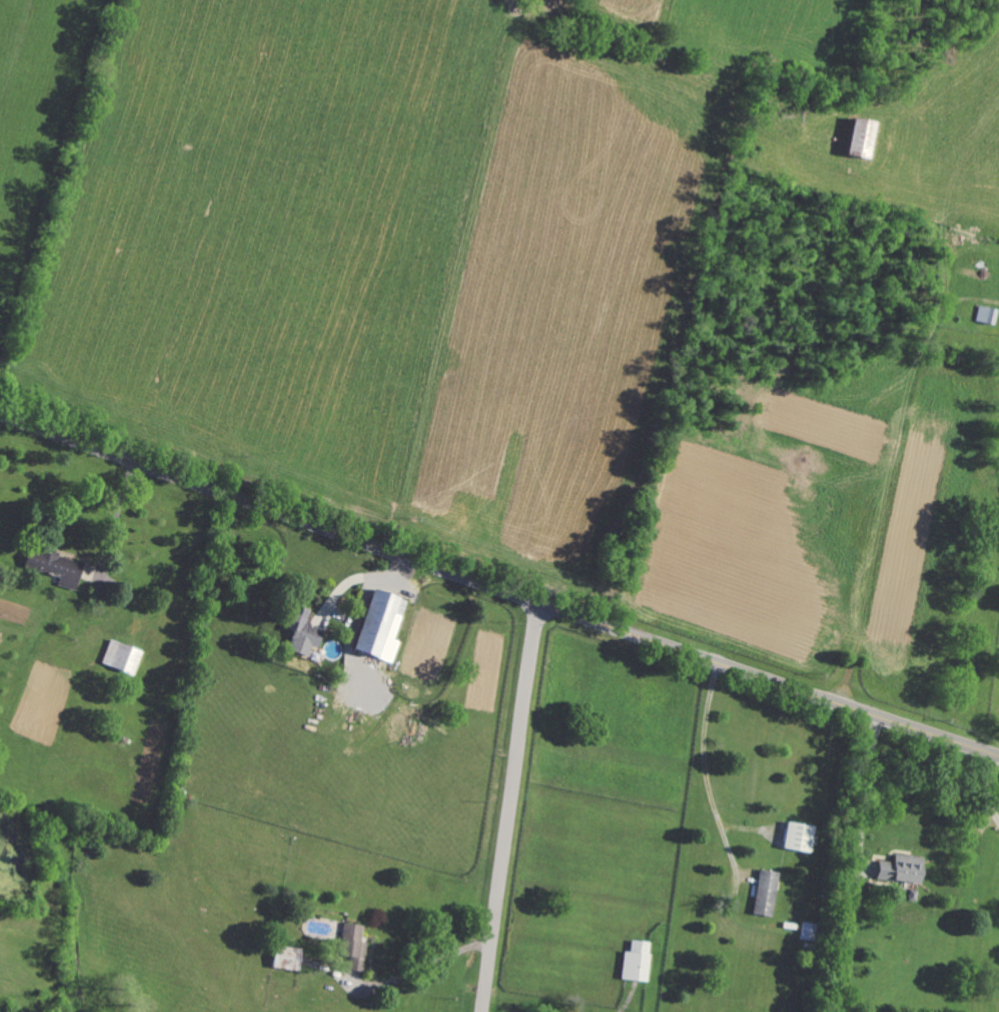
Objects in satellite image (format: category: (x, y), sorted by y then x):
building: (857, 139)
building: (983, 315)
building: (52, 566)
road: (498, 589)
building: (378, 625)
building: (299, 631)
building: (120, 657)
road: (709, 748)
road: (983, 791)
road: (513, 807)
road: (864, 816)
building: (796, 837)
building: (898, 869)
building: (763, 893)
building: (806, 931)
building: (351, 946)
building: (285, 958)
building: (634, 962)
road: (424, 966)

